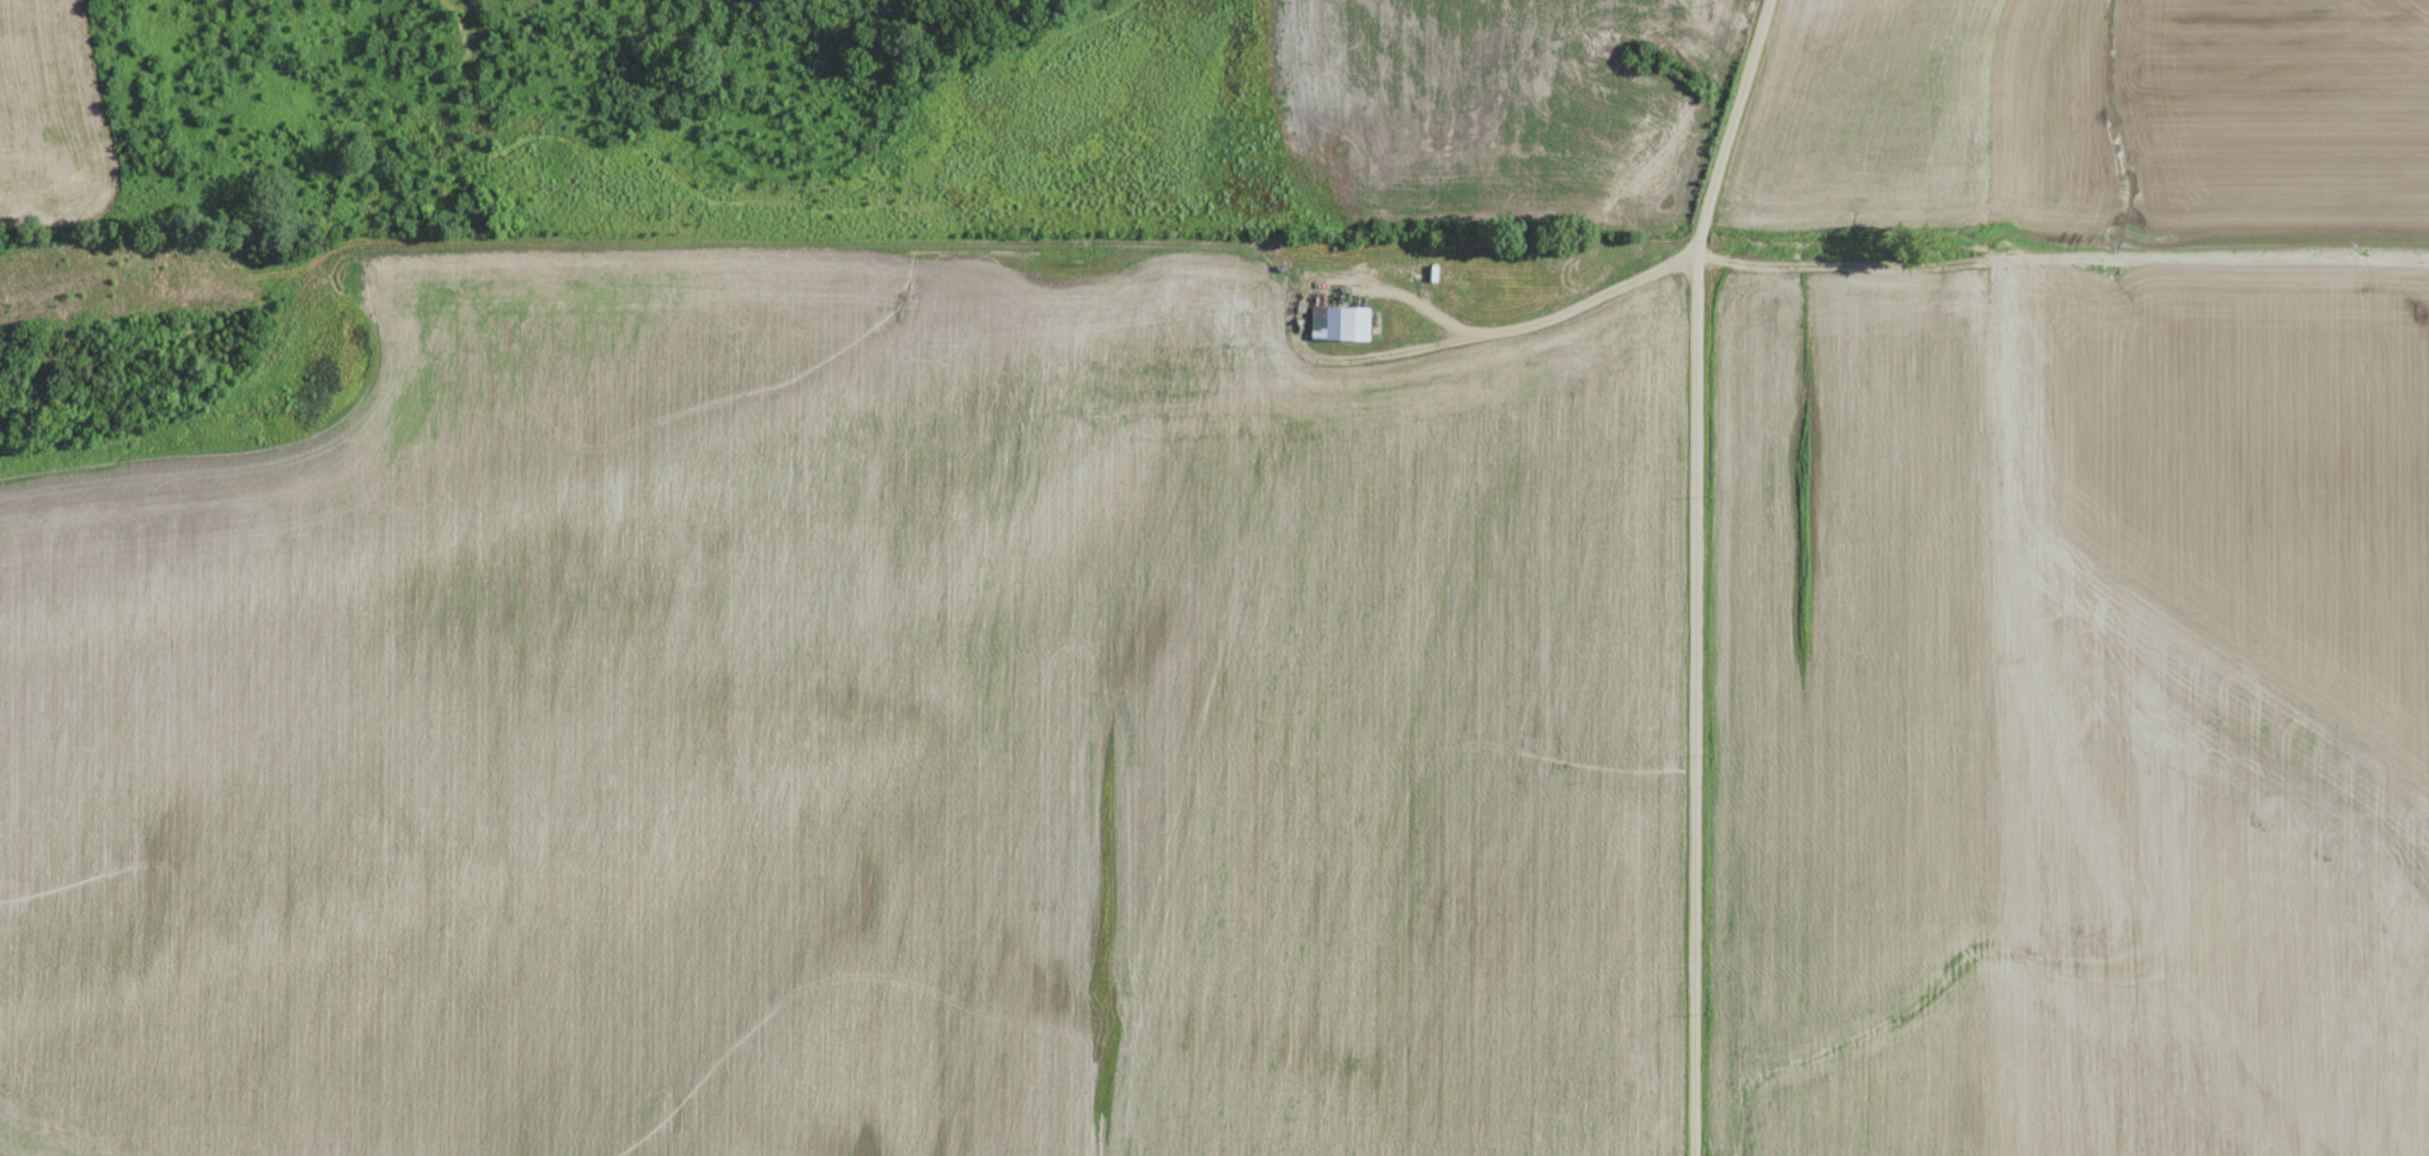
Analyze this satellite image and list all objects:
road: (1586, 310)
building: (1332, 324)
road: (1313, 331)
road: (1700, 571)

